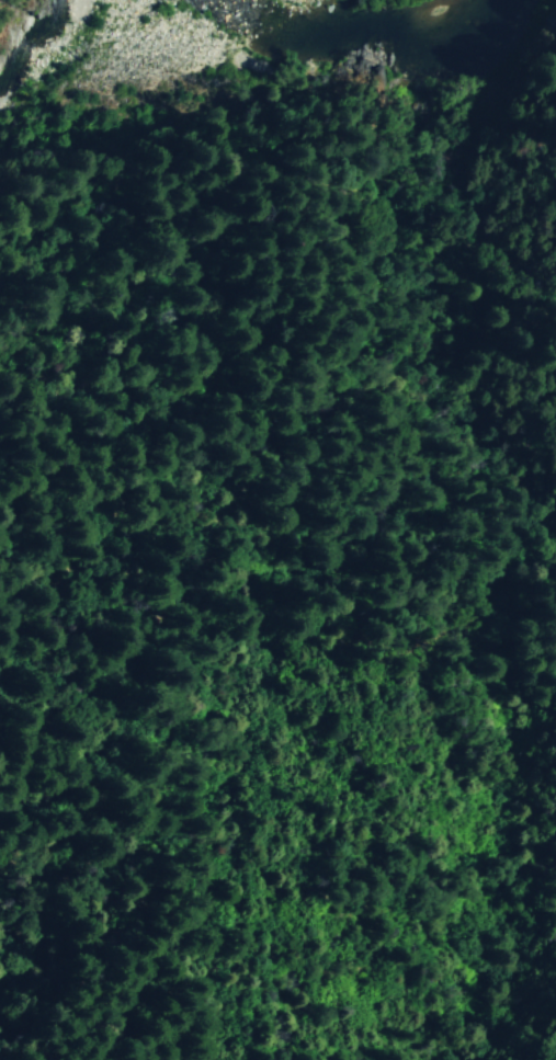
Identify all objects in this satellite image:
river: (361, 33)
river: (30, 43)

